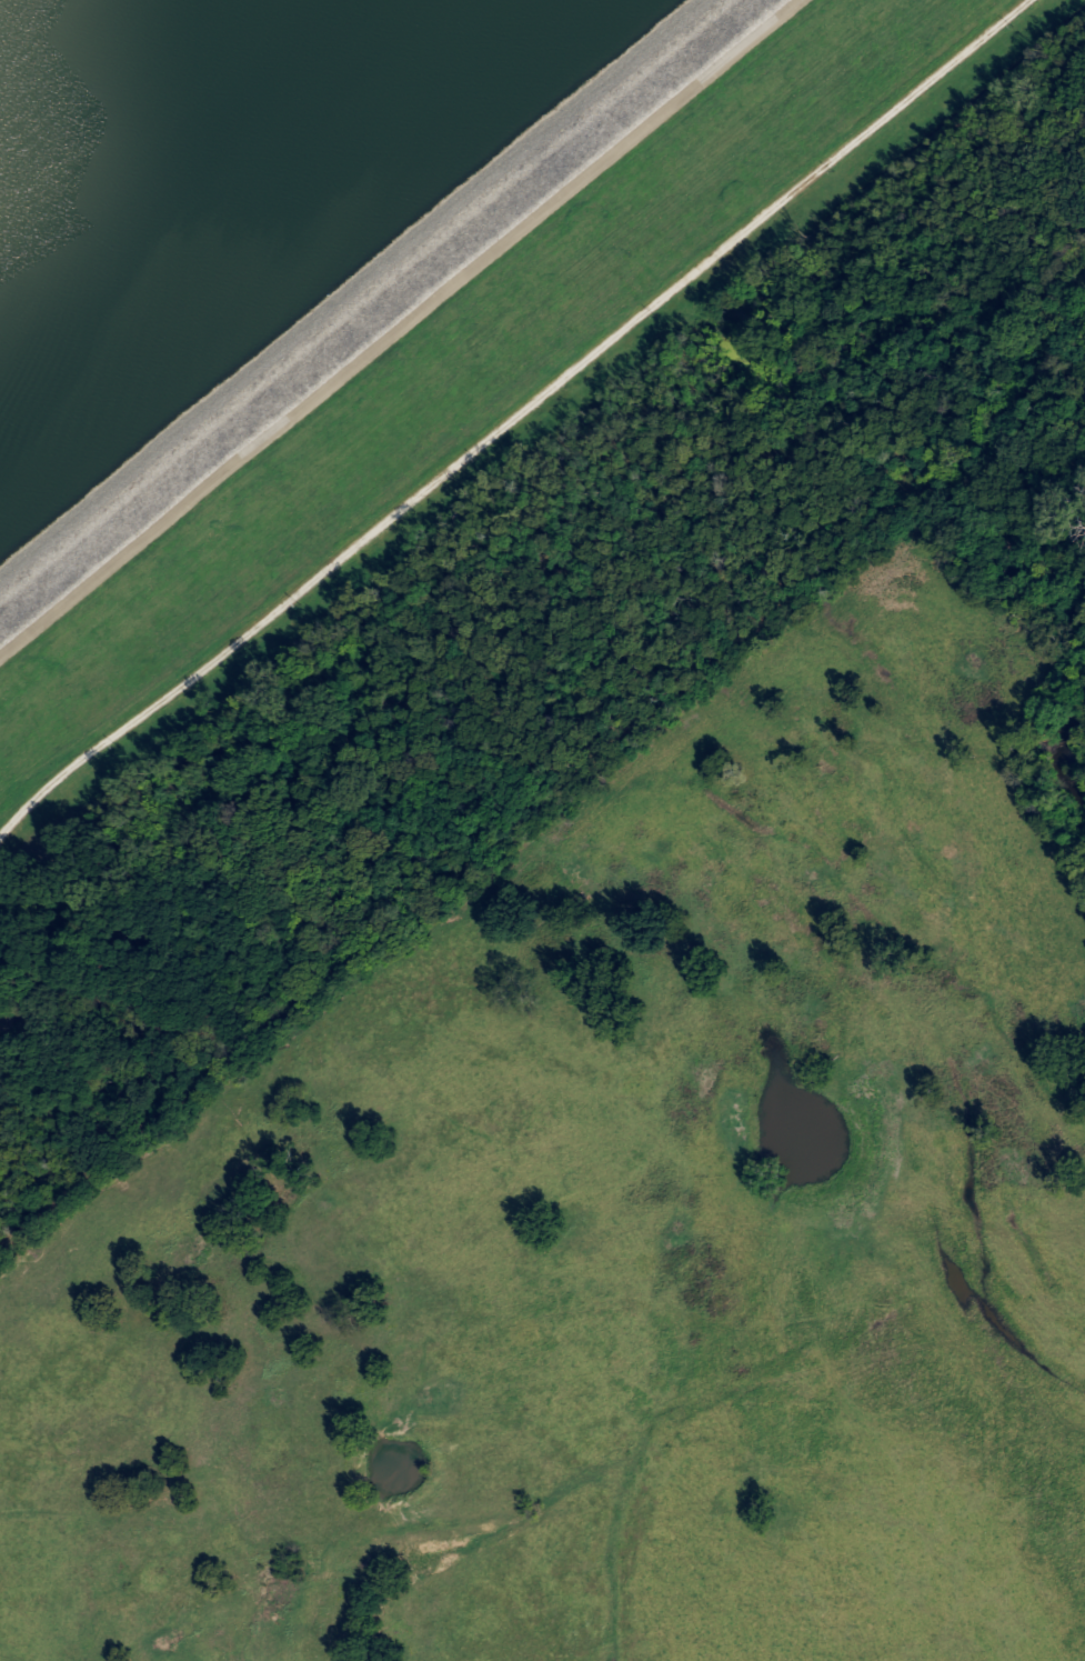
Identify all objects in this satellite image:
road: (406, 334)

